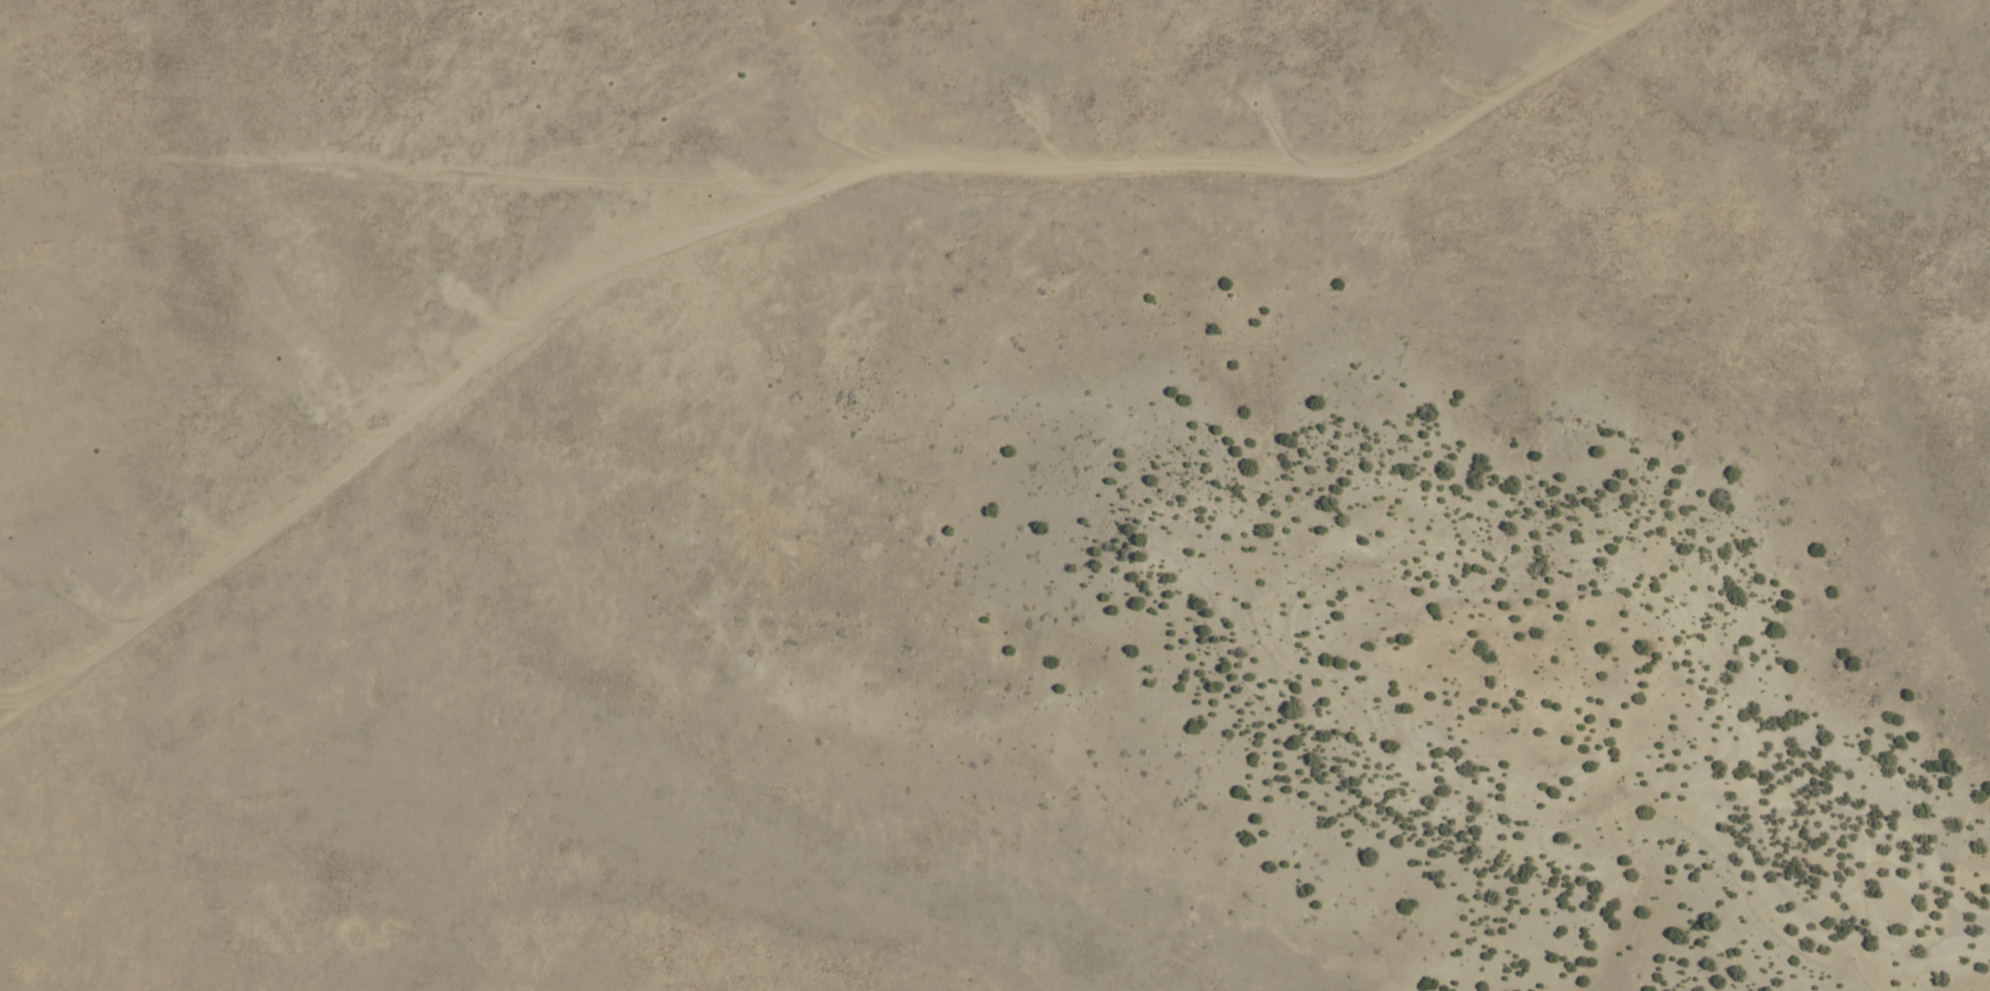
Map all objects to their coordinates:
road: (780, 198)

